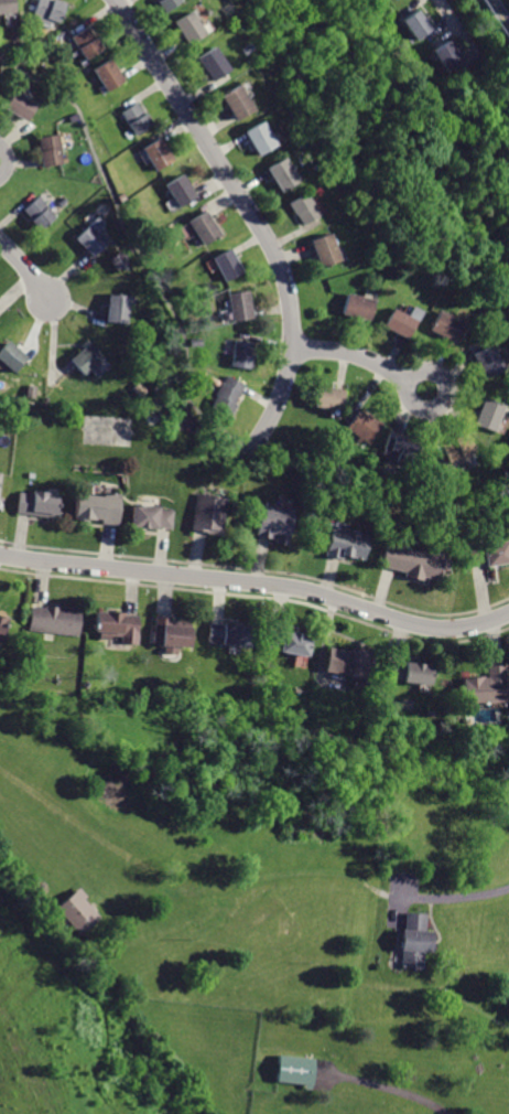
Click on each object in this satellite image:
building: (162, 4)
building: (7, 6)
road: (412, 7)
building: (44, 11)
road: (500, 13)
building: (414, 25)
road: (438, 28)
building: (185, 29)
road: (446, 34)
road: (467, 38)
building: (85, 43)
building: (445, 55)
building: (208, 64)
building: (106, 77)
building: (232, 103)
building: (18, 107)
building: (134, 119)
building: (256, 139)
building: (48, 150)
building: (154, 153)
building: (279, 173)
building: (180, 192)
building: (300, 208)
building: (36, 213)
road: (252, 216)
building: (201, 227)
building: (90, 235)
road: (137, 248)
building: (320, 249)
building: (119, 259)
building: (226, 265)
road: (26, 270)
building: (239, 306)
building: (355, 306)
building: (117, 307)
building: (399, 320)
building: (443, 324)
road: (52, 352)
building: (242, 353)
building: (85, 356)
building: (9, 357)
road: (364, 358)
building: (483, 362)
building: (226, 394)
building: (327, 398)
building: (485, 411)
building: (365, 426)
building: (455, 447)
building: (398, 450)
building: (0, 474)
building: (37, 503)
building: (96, 505)
building: (206, 513)
building: (150, 515)
building: (275, 523)
building: (345, 543)
building: (487, 554)
building: (415, 564)
road: (257, 581)
building: (54, 619)
building: (1, 624)
building: (116, 624)
building: (167, 633)
building: (228, 633)
building: (288, 641)
building: (348, 660)
building: (410, 671)
building: (484, 687)
road: (463, 895)
building: (77, 911)
building: (413, 939)
building: (295, 1069)
road: (397, 1089)
road: (4, 1102)

